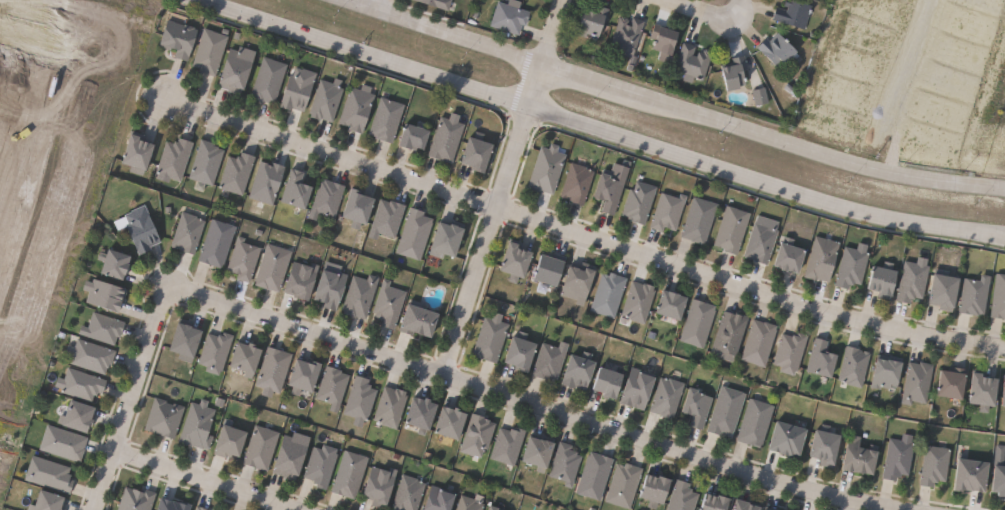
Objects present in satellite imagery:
building: (432, 3)
road: (373, 4)
road: (702, 9)
road: (731, 9)
building: (793, 13)
building: (510, 17)
building: (594, 20)
building: (627, 35)
building: (179, 38)
building: (666, 40)
road: (33, 41)
building: (779, 48)
building: (210, 51)
building: (693, 62)
building: (237, 68)
building: (737, 72)
building: (269, 79)
road: (900, 82)
building: (299, 88)
building: (761, 95)
building: (327, 100)
road: (671, 105)
building: (357, 108)
building: (387, 118)
road: (44, 125)
road: (597, 129)
building: (416, 136)
building: (447, 137)
building: (138, 151)
building: (479, 151)
building: (175, 158)
building: (207, 161)
building: (547, 169)
building: (237, 172)
building: (267, 181)
building: (577, 182)
road: (500, 187)
building: (297, 189)
building: (610, 192)
building: (327, 198)
building: (640, 201)
building: (360, 207)
building: (669, 211)
building: (388, 218)
building: (700, 219)
building: (141, 229)
building: (733, 229)
building: (188, 232)
building: (415, 233)
road: (582, 234)
building: (448, 239)
building: (217, 242)
building: (762, 242)
building: (793, 255)
building: (823, 258)
building: (243, 259)
building: (518, 261)
building: (116, 263)
building: (853, 265)
building: (273, 266)
building: (552, 268)
building: (302, 279)
building: (902, 280)
building: (579, 283)
building: (331, 288)
building: (947, 291)
building: (105, 294)
building: (609, 294)
building: (360, 295)
building: (976, 295)
building: (999, 297)
building: (639, 301)
building: (388, 303)
building: (674, 304)
building: (420, 320)
building: (699, 322)
building: (103, 328)
building: (731, 335)
building: (491, 337)
building: (186, 341)
building: (761, 342)
building: (215, 351)
building: (523, 351)
building: (791, 352)
building: (90, 356)
building: (247, 357)
building: (822, 359)
building: (551, 360)
building: (855, 366)
building: (273, 370)
building: (581, 371)
building: (888, 374)
building: (306, 375)
building: (611, 382)
building: (917, 382)
building: (955, 383)
building: (81, 384)
building: (1004, 384)
building: (333, 387)
building: (639, 388)
building: (986, 391)
building: (668, 397)
road: (130, 399)
building: (360, 400)
road: (526, 403)
building: (391, 406)
building: (699, 407)
building: (727, 410)
building: (423, 413)
building: (80, 416)
building: (164, 419)
building: (453, 422)
building: (756, 422)
building: (198, 425)
building: (478, 435)
building: (791, 439)
building: (231, 441)
building: (63, 443)
building: (509, 445)
building: (829, 447)
building: (261, 448)
building: (541, 452)
building: (863, 455)
building: (292, 456)
building: (900, 457)
building: (566, 464)
building: (321, 465)
building: (936, 465)
building: (49, 474)
building: (350, 474)
building: (975, 475)
building: (596, 476)
building: (1001, 477)
road: (202, 481)
building: (624, 484)
building: (380, 485)
building: (409, 493)
building: (670, 493)
building: (136, 498)
building: (440, 498)
building: (48, 502)
building: (469, 503)
building: (729, 503)
building: (174, 505)
building: (200, 508)
building: (495, 508)
building: (490, 509)
building: (763, 509)

